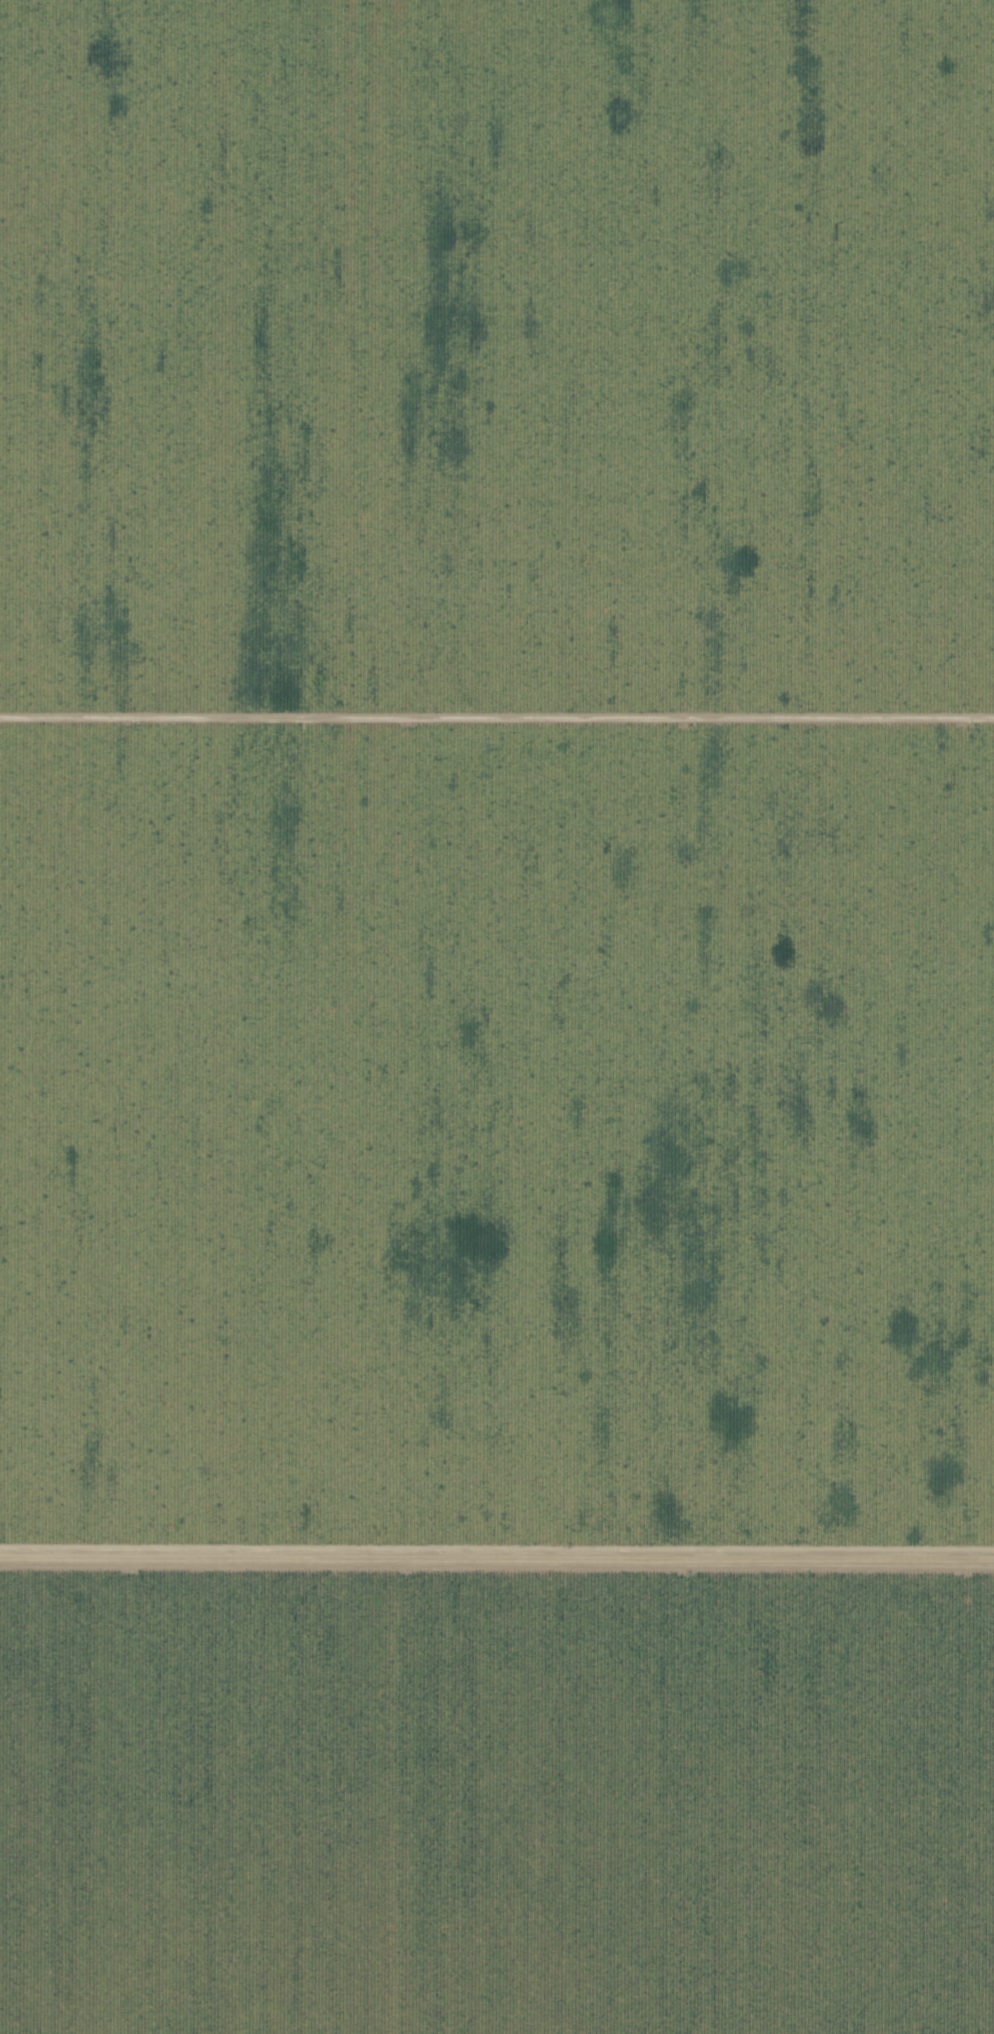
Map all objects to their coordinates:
crop: (497, 782)
crop: (495, 1799)

